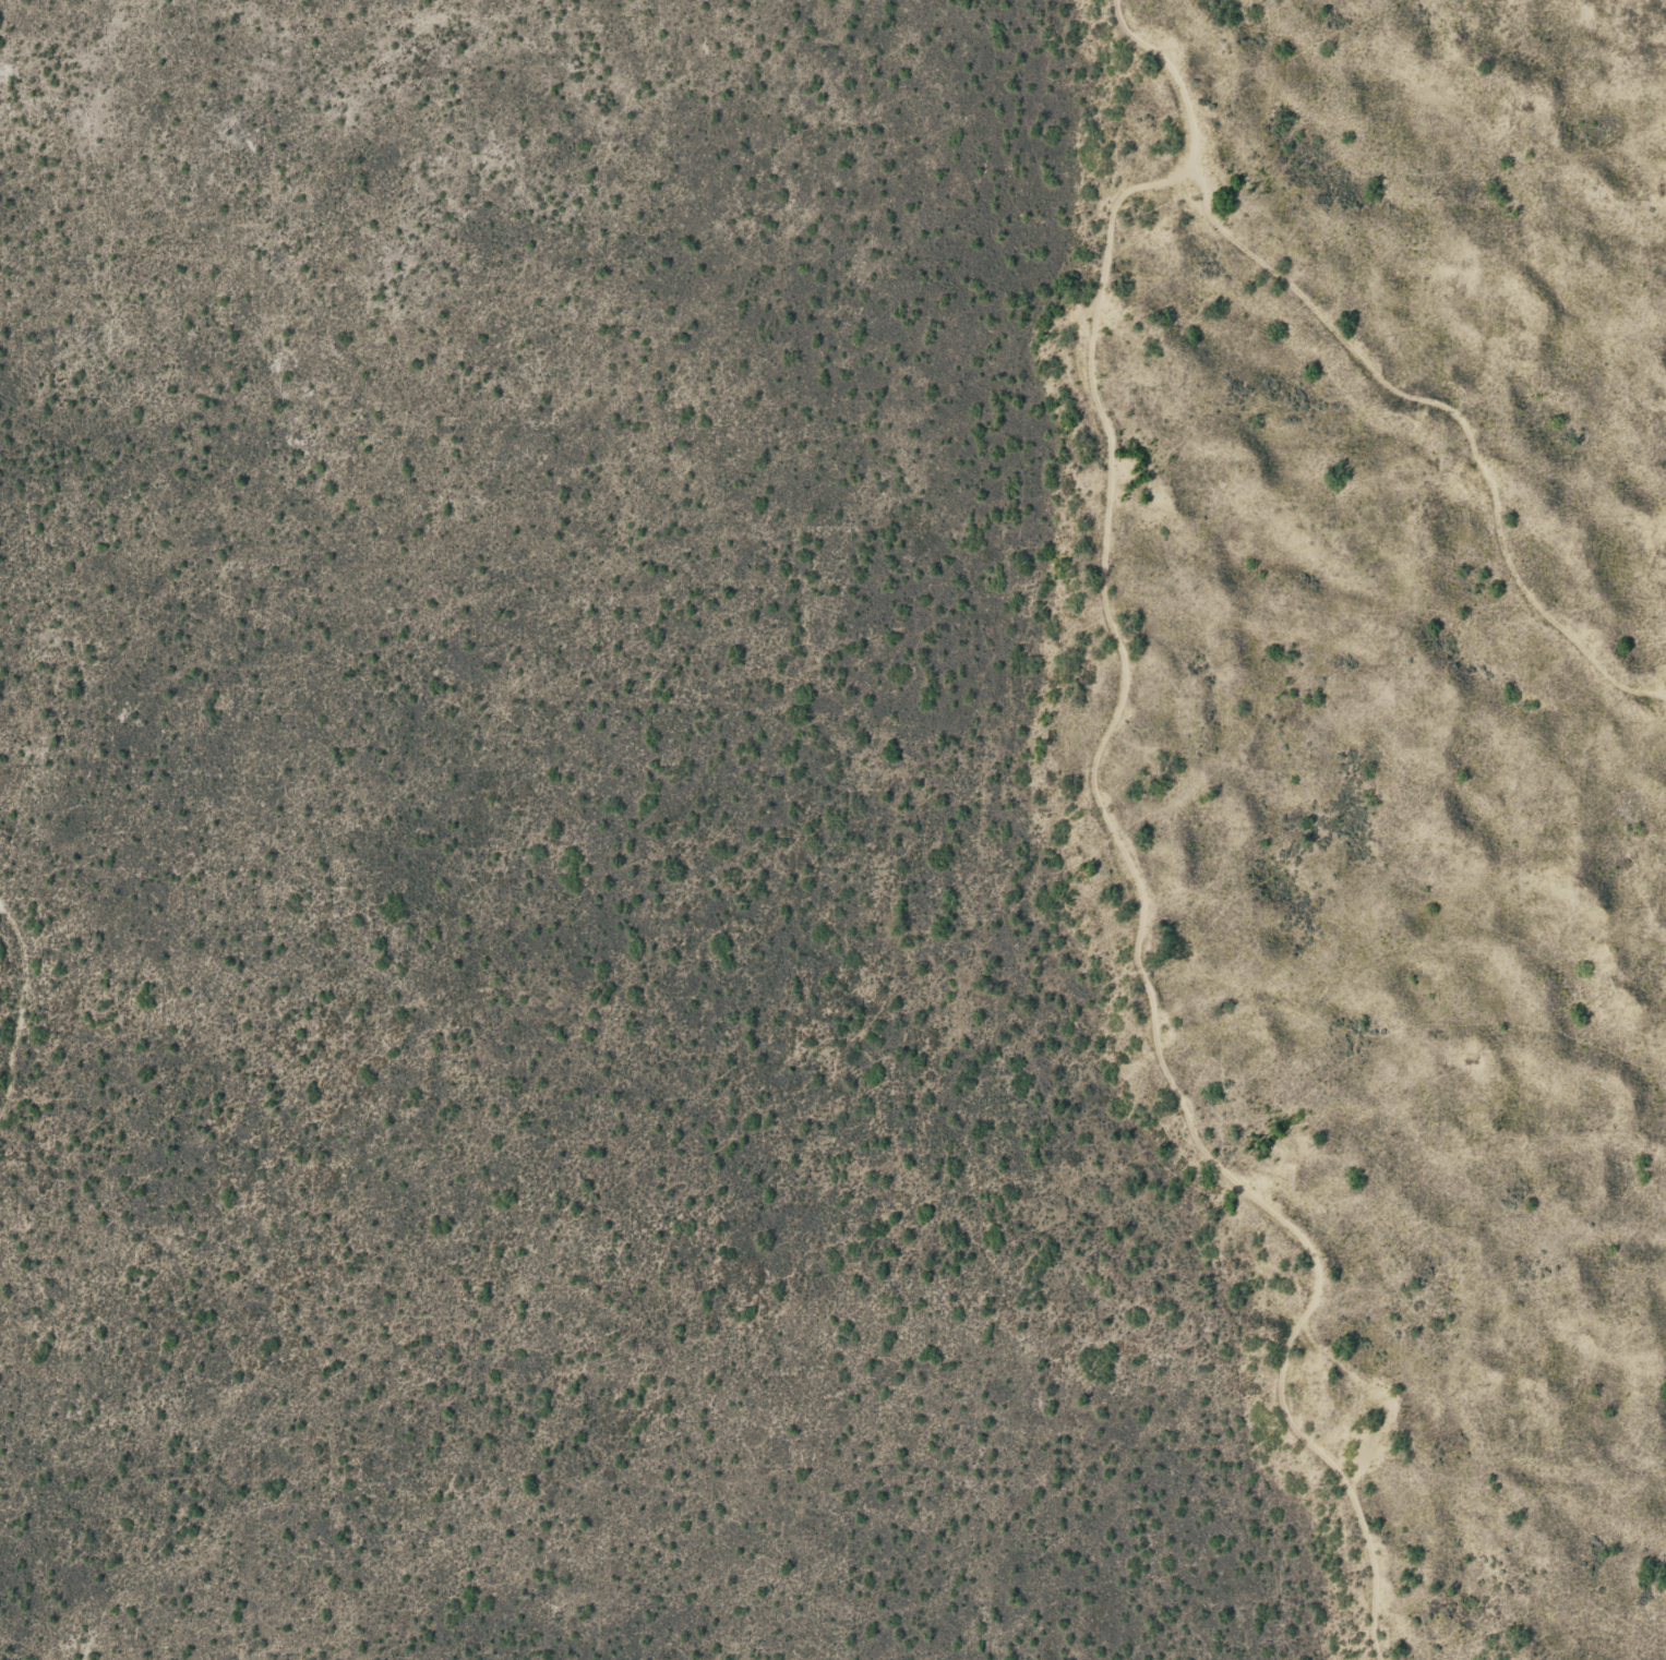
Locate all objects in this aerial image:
road: (0, 898)

